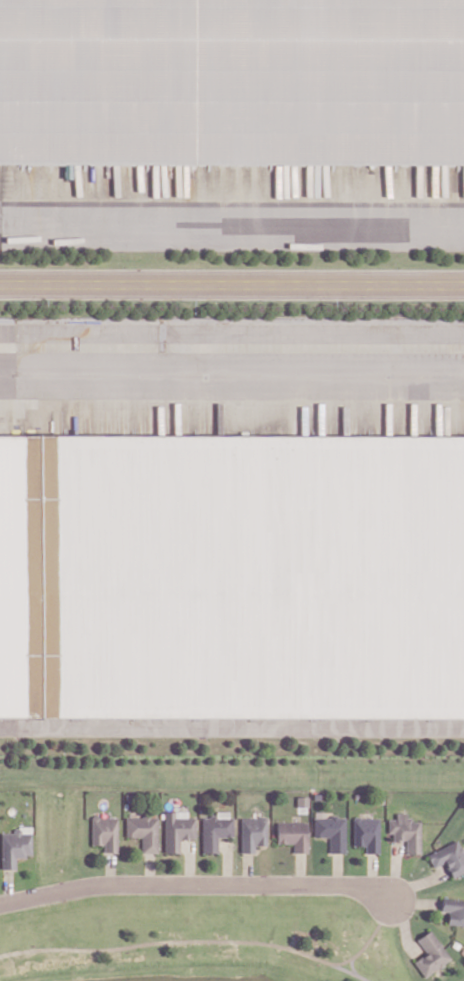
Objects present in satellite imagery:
building: (232, 84)
road: (232, 225)
road: (232, 284)
road: (232, 374)
building: (19, 574)
building: (250, 577)
road: (232, 725)
building: (176, 829)
building: (213, 830)
building: (142, 832)
building: (330, 832)
building: (405, 832)
building: (103, 833)
building: (251, 833)
building: (365, 833)
building: (291, 835)
building: (13, 847)
building: (448, 858)
road: (195, 881)
building: (453, 910)
road: (212, 939)
building: (429, 954)
road: (351, 964)
road: (351, 971)

